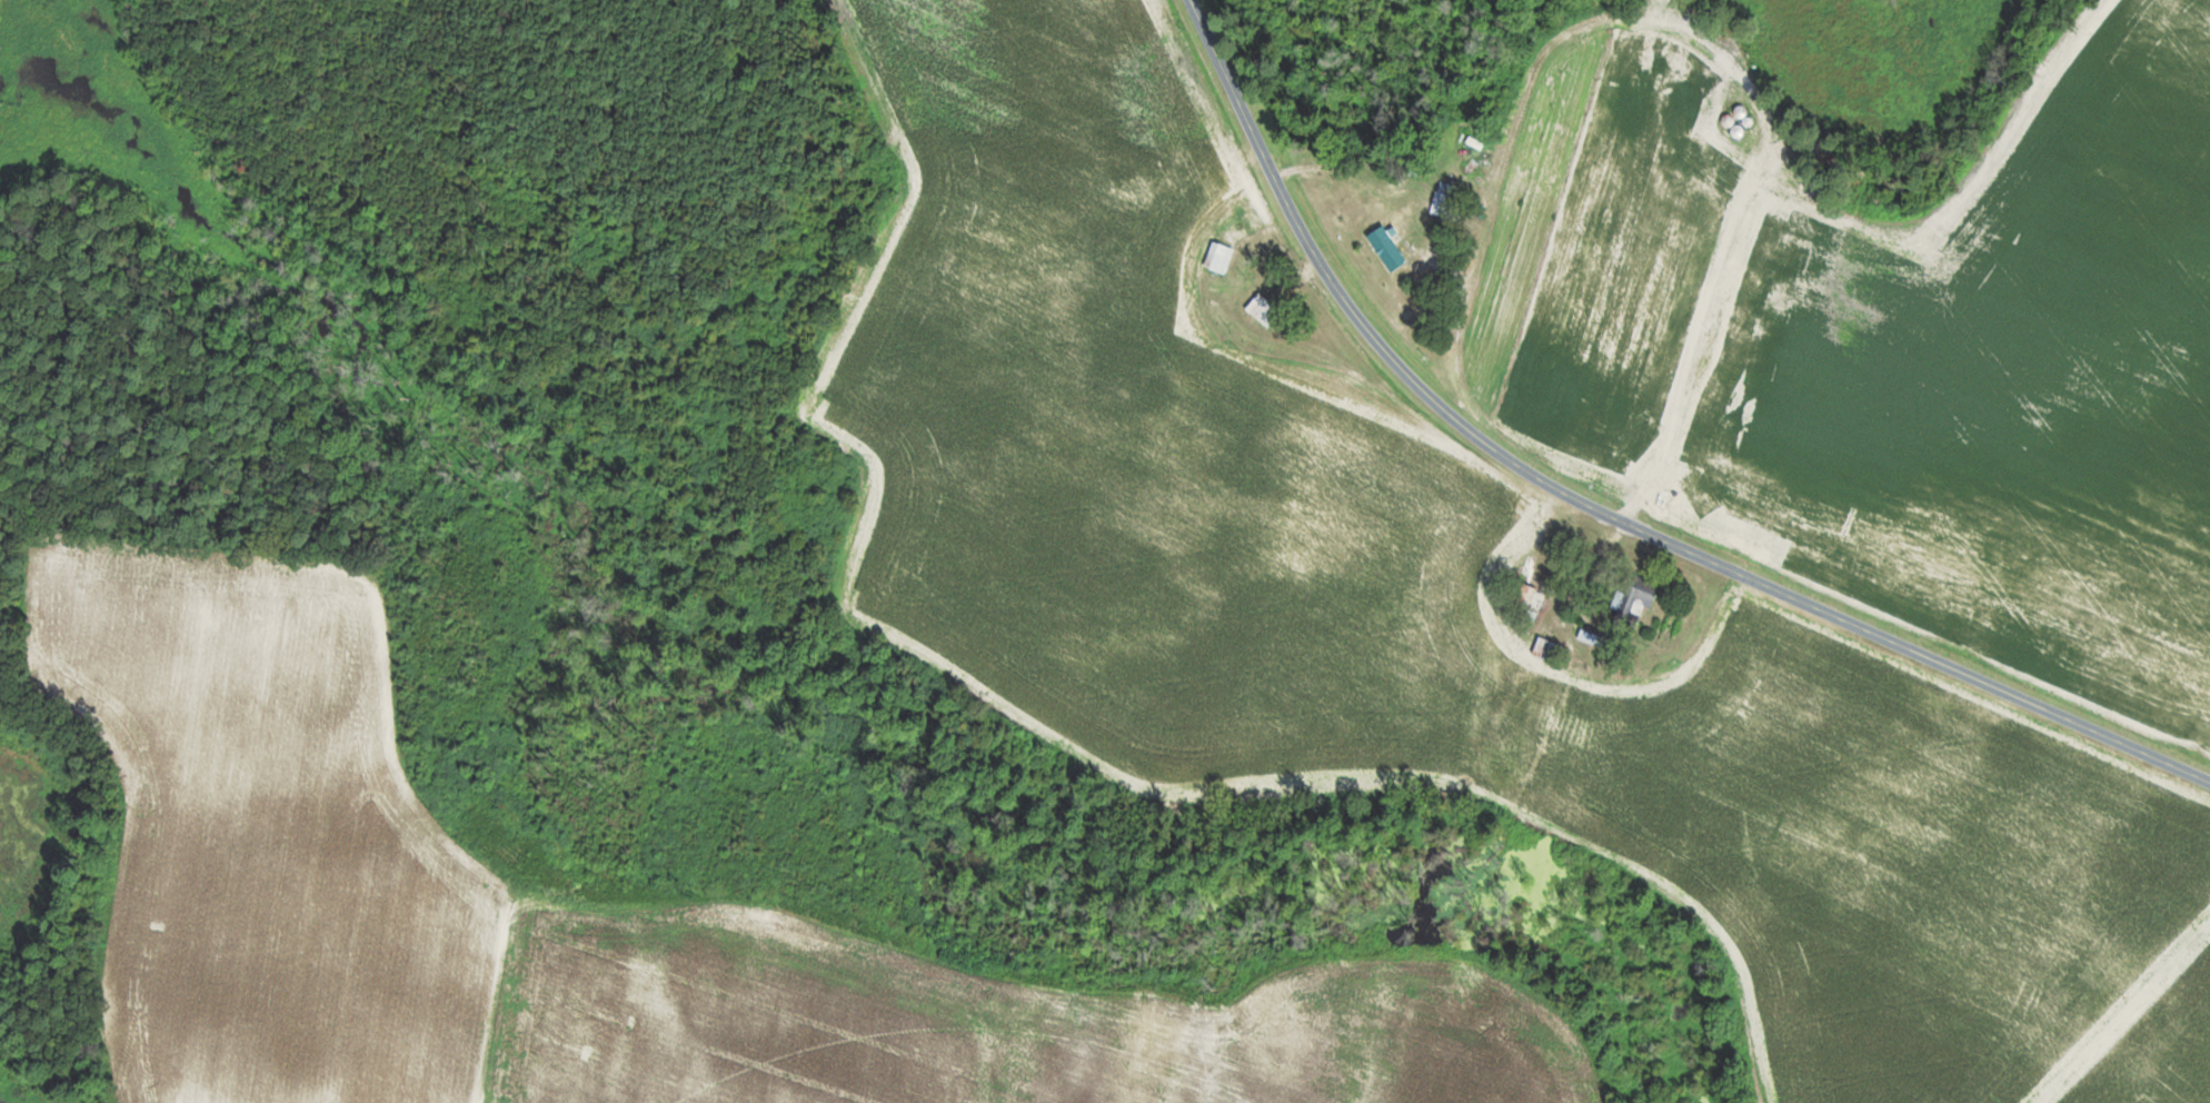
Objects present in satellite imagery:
building: (1681, 122)
building: (1691, 165)
building: (1736, 177)
crop: (1980, 226)
building: (1393, 245)
building: (1220, 258)
building: (1750, 280)
crop: (2144, 292)
building: (1264, 310)
building: (1724, 328)
road: (1597, 507)
crop: (1955, 521)
building: (1530, 593)
building: (1636, 594)
building: (1594, 635)
building: (1547, 649)
crop: (1903, 863)
crop: (378, 885)
crop: (2178, 1008)
crop: (1487, 1046)
crop: (2117, 1079)

